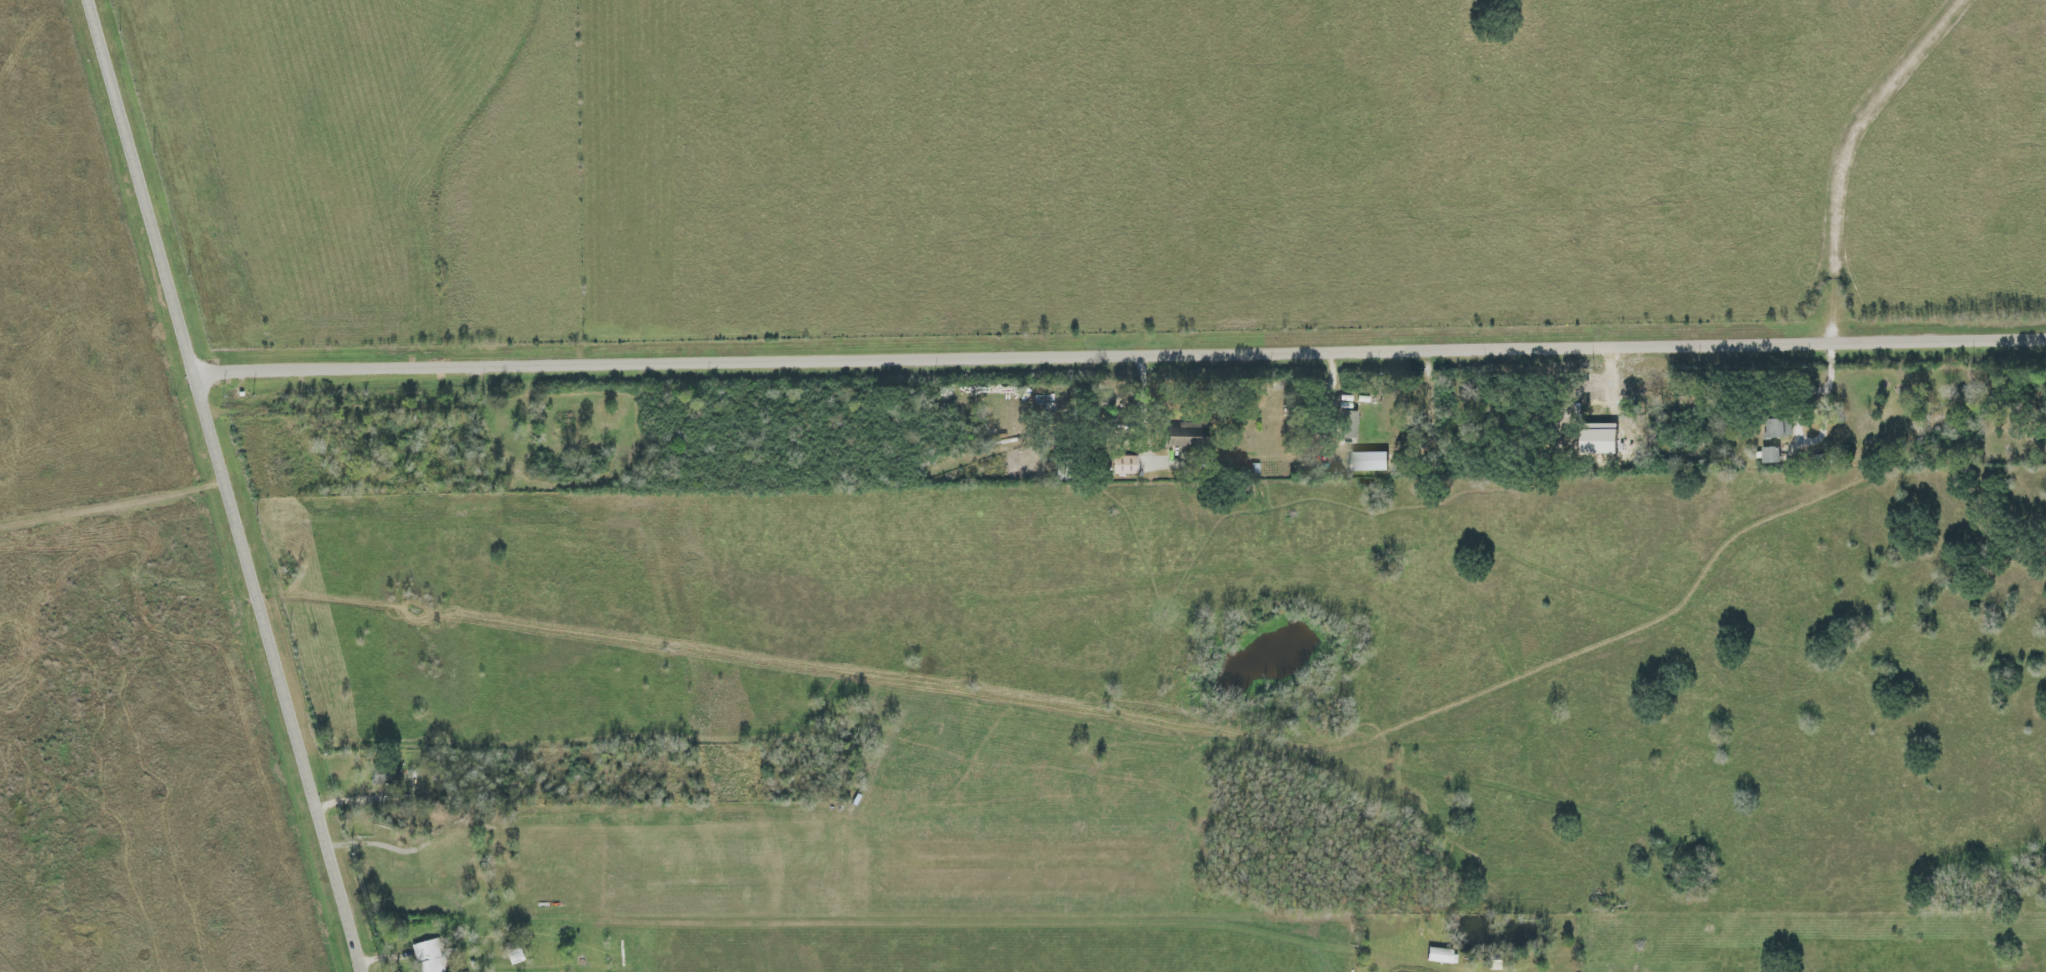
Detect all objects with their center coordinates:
road: (1121, 358)
road: (1142, 410)
building: (1349, 424)
building: (1779, 427)
building: (1186, 434)
building: (1771, 454)
building: (1370, 461)
building: (1124, 465)
road: (227, 485)
building: (1440, 955)
building: (428, 956)

